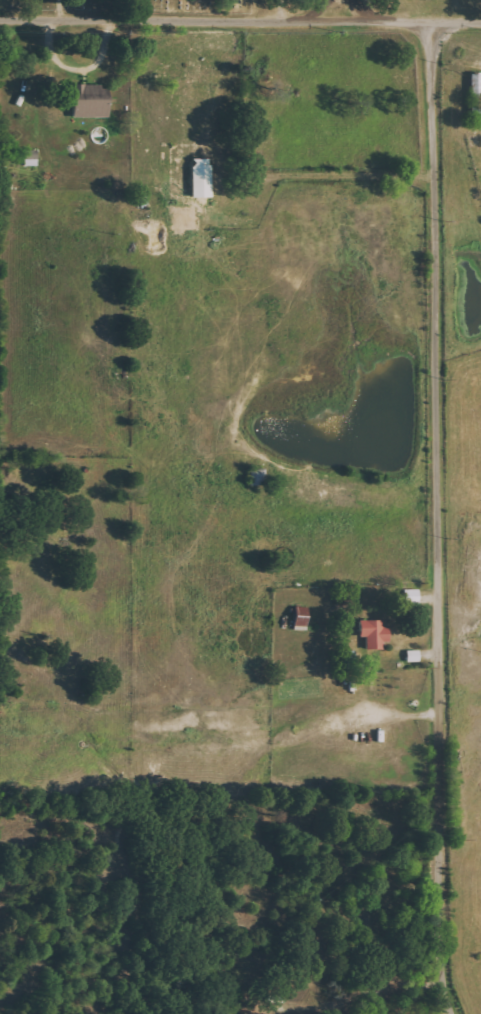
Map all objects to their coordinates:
park: (136, 6)
road: (341, 11)
road: (240, 22)
building: (476, 92)
building: (91, 101)
building: (32, 157)
road: (439, 518)
building: (302, 617)
building: (375, 634)
building: (414, 656)

